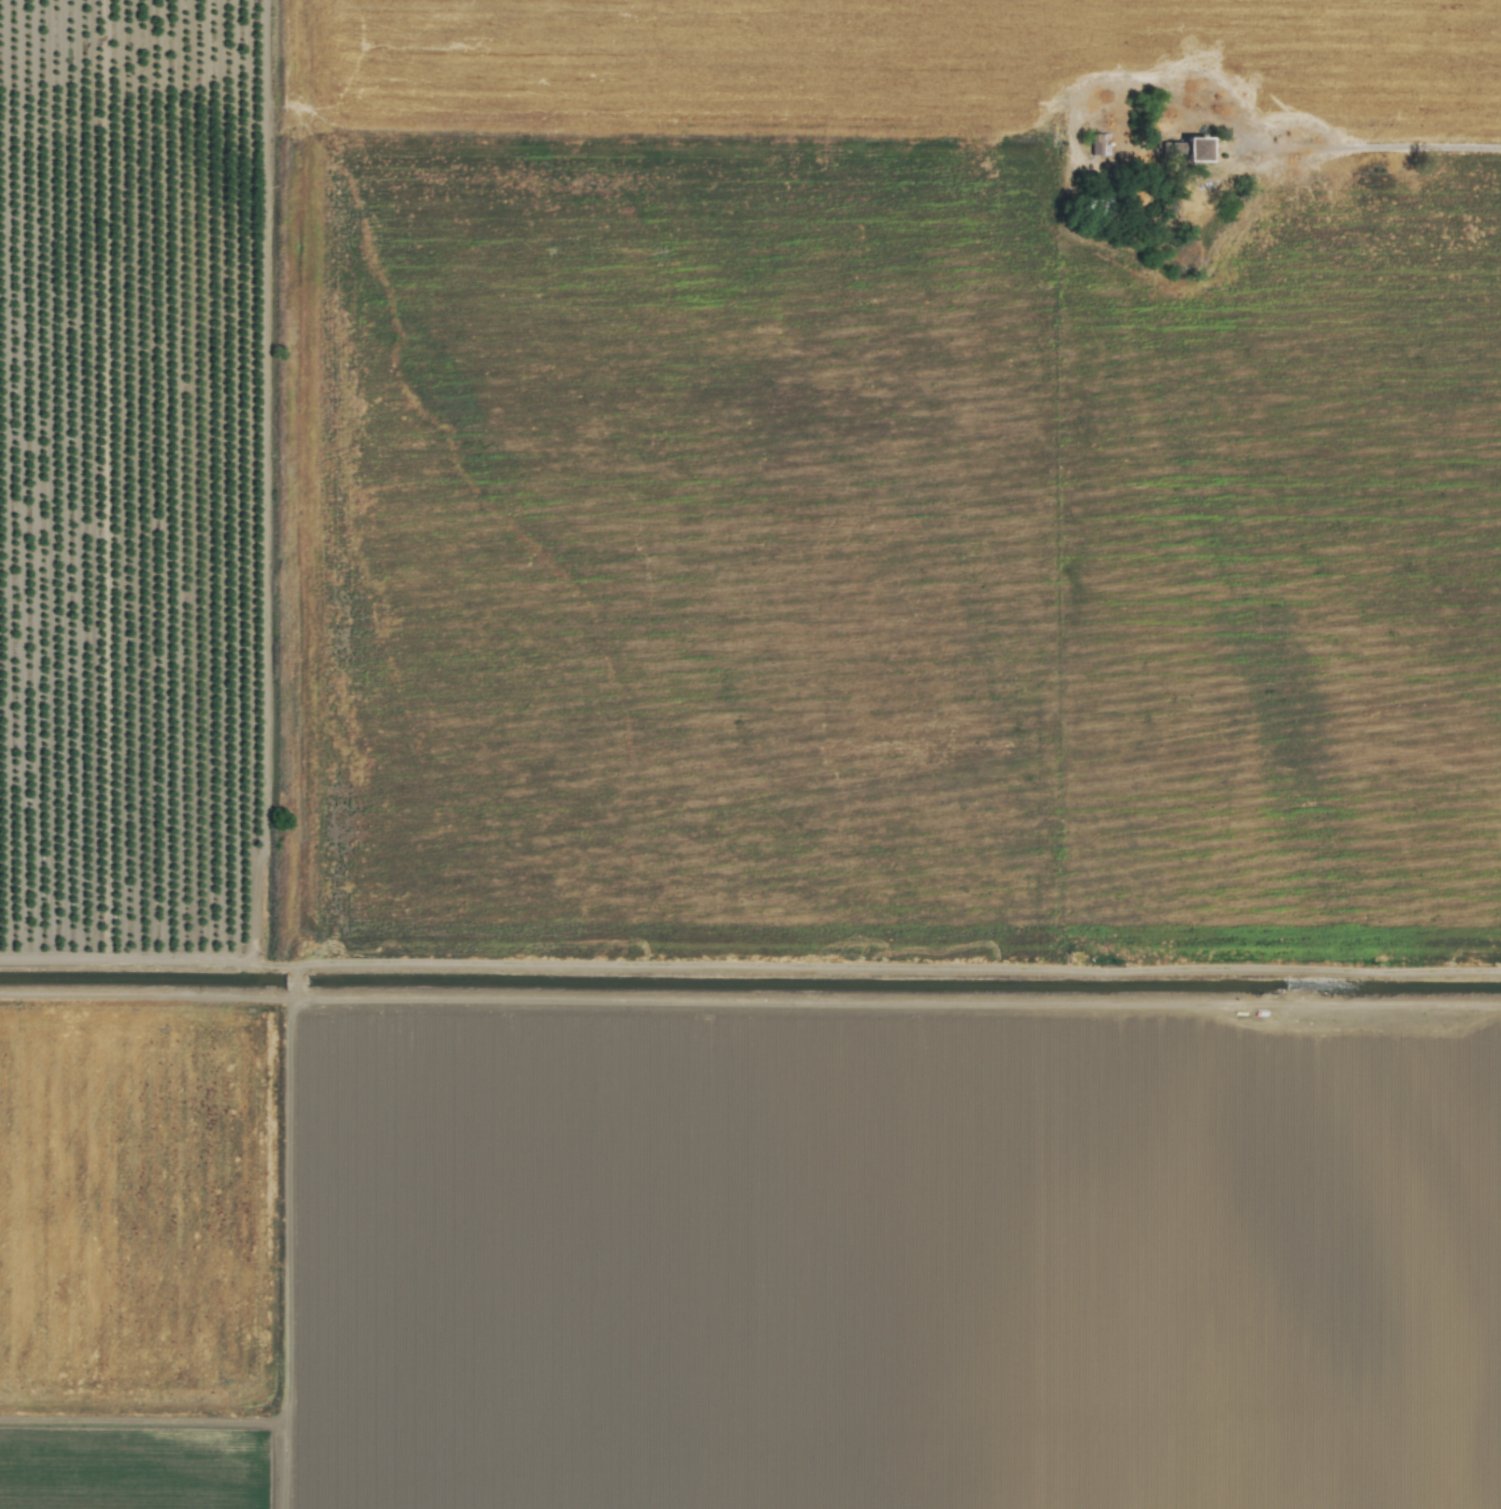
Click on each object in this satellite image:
building: (1196, 149)
road: (1376, 151)

